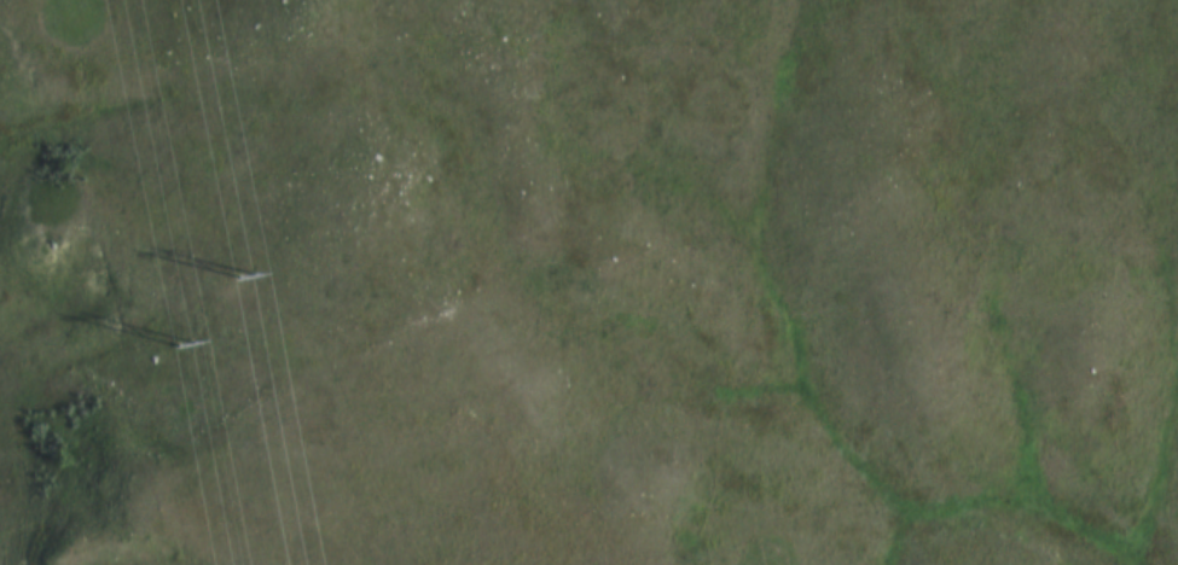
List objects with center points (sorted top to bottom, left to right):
power tower: (248, 281)
power tower: (187, 356)

